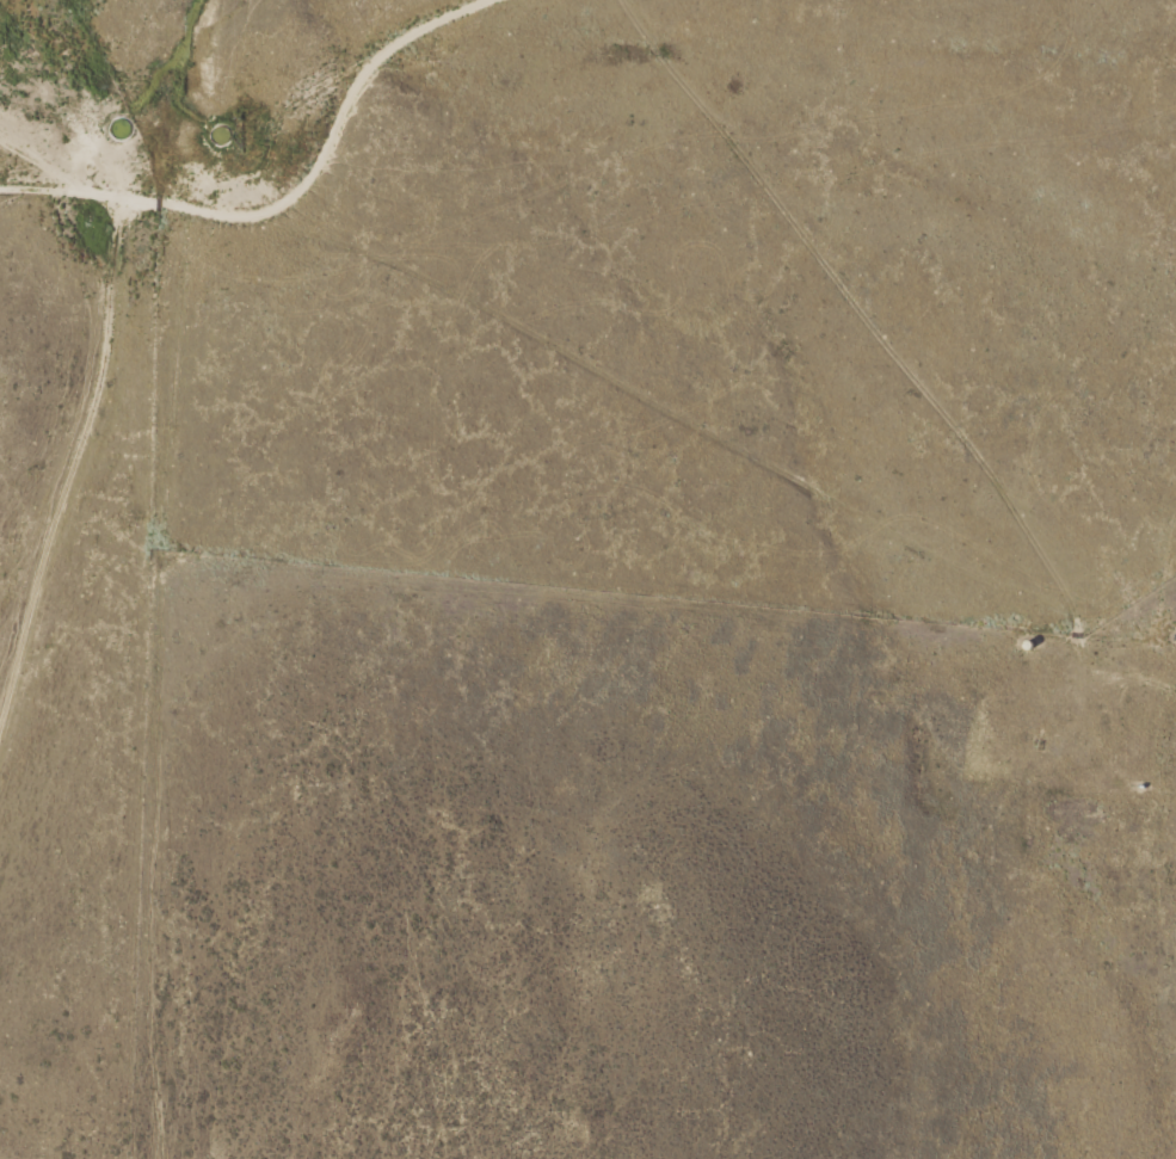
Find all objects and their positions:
road: (893, 352)

